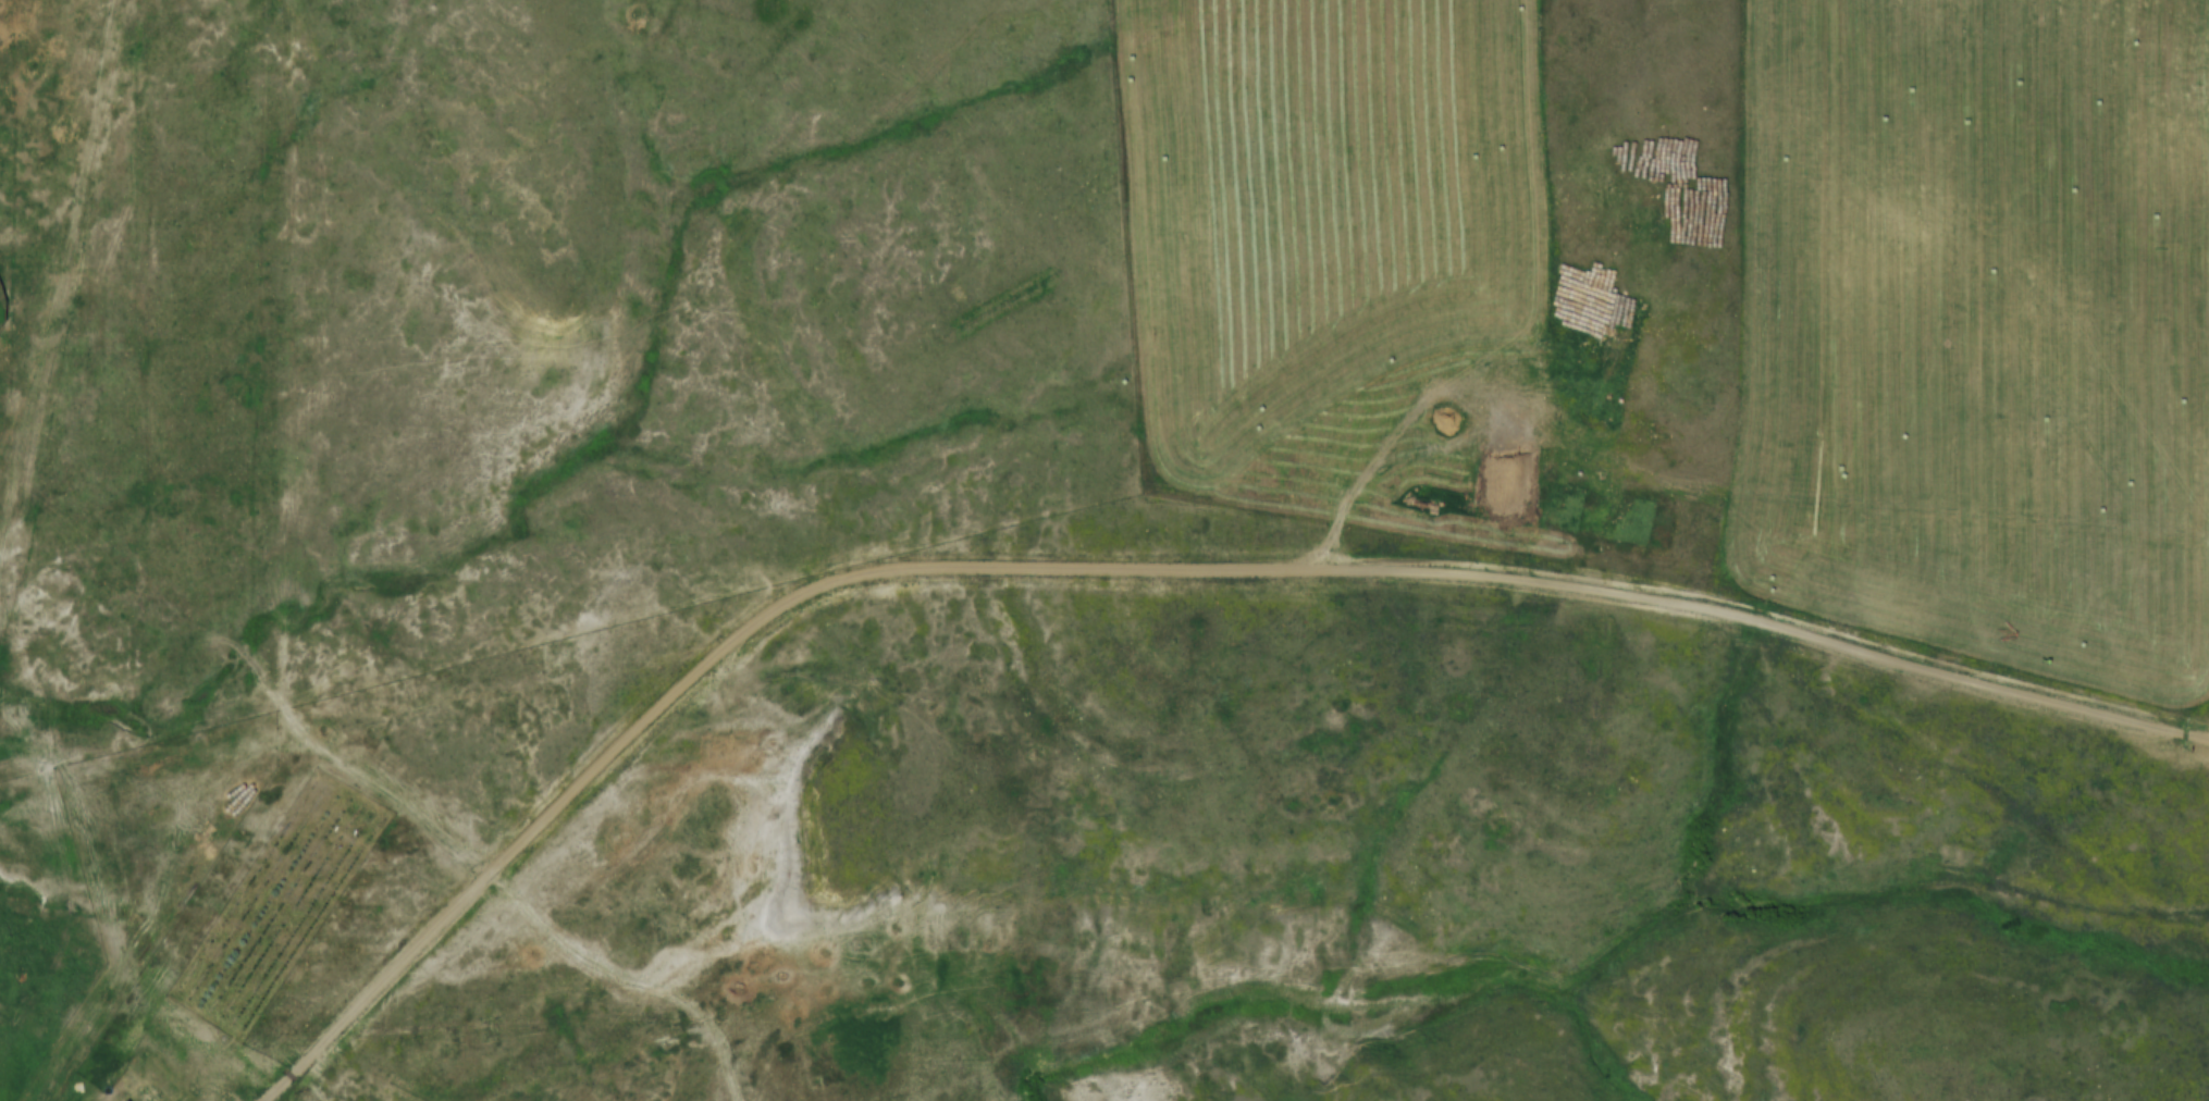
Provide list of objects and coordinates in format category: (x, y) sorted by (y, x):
building: (1847, 109)
road: (51, 375)
road: (1144, 567)
building: (147, 1092)
building: (169, 1099)

